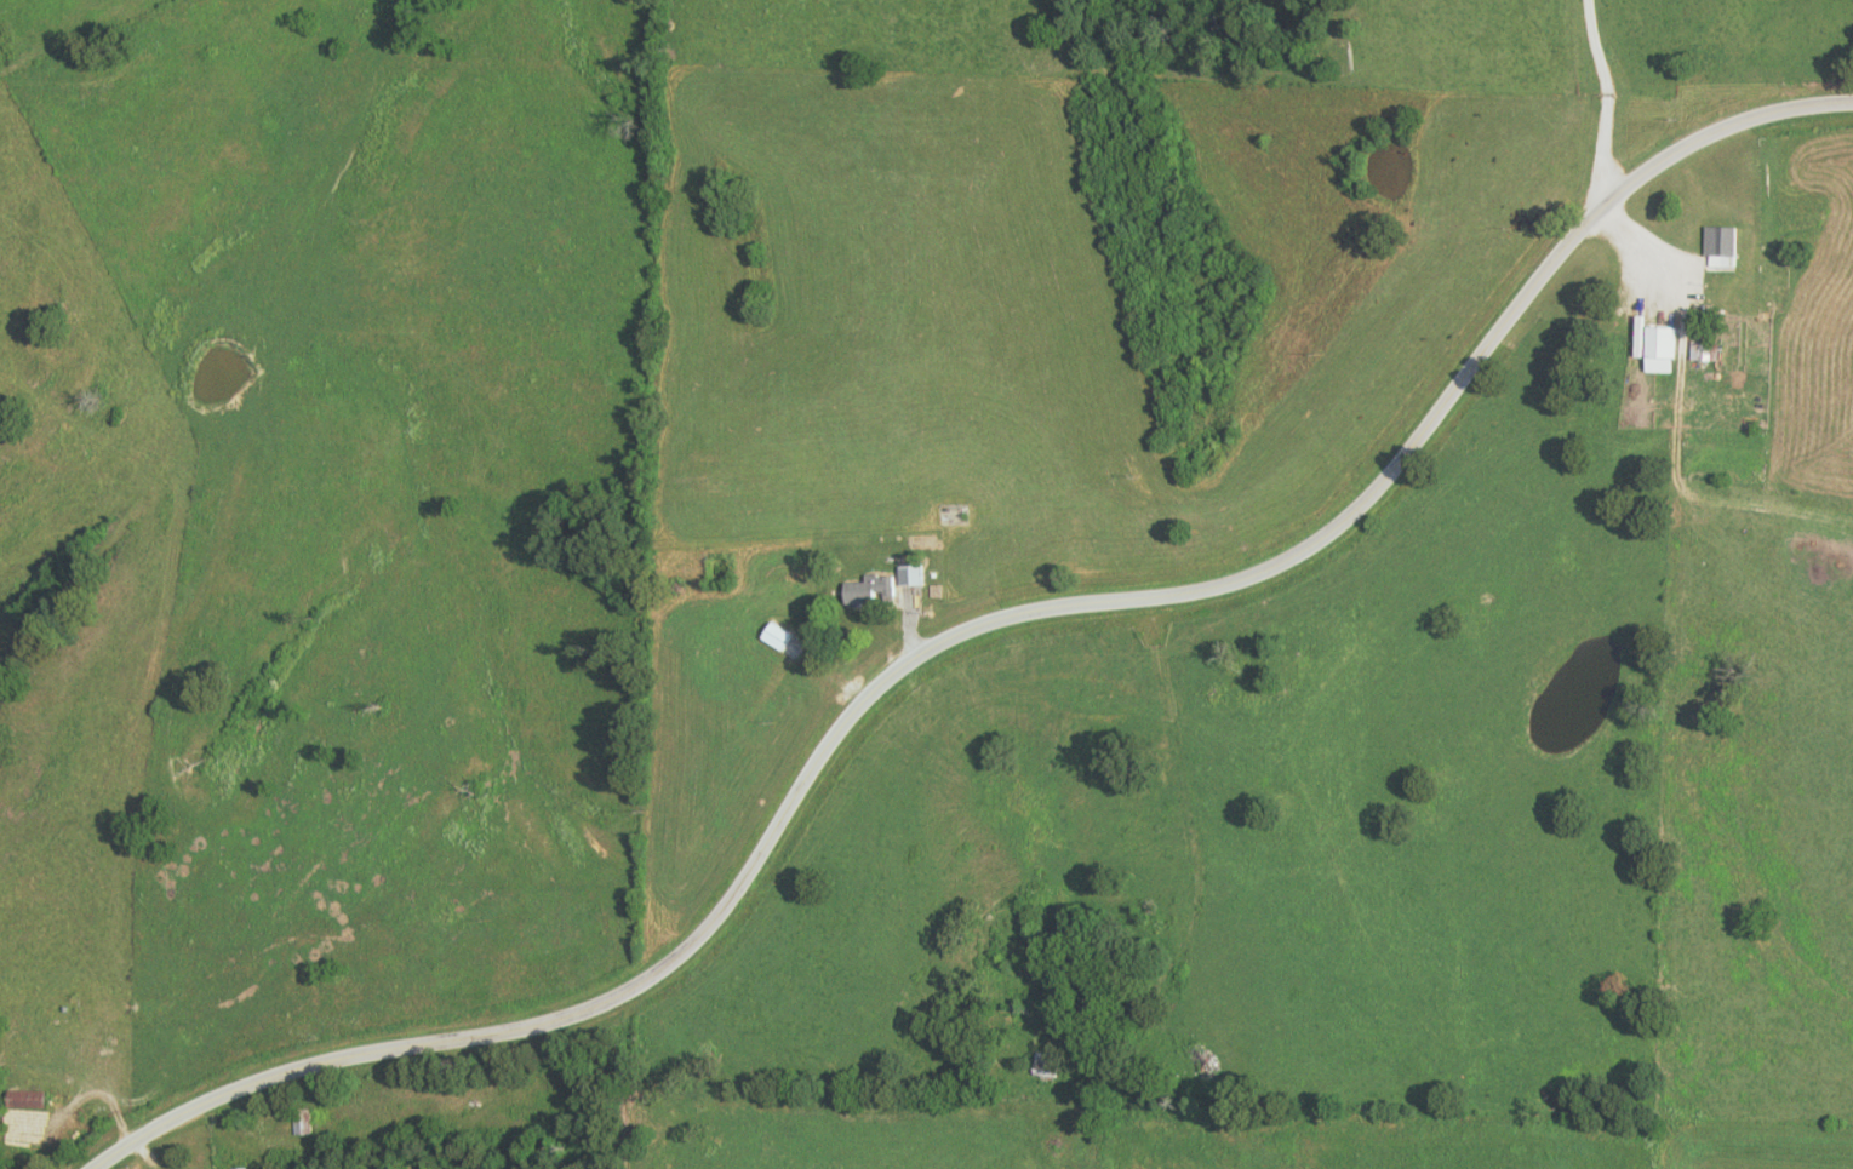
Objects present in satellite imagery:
road: (1605, 196)
building: (1717, 247)
building: (1657, 349)
building: (913, 577)
building: (871, 591)
road: (965, 624)
road: (1189, 814)

